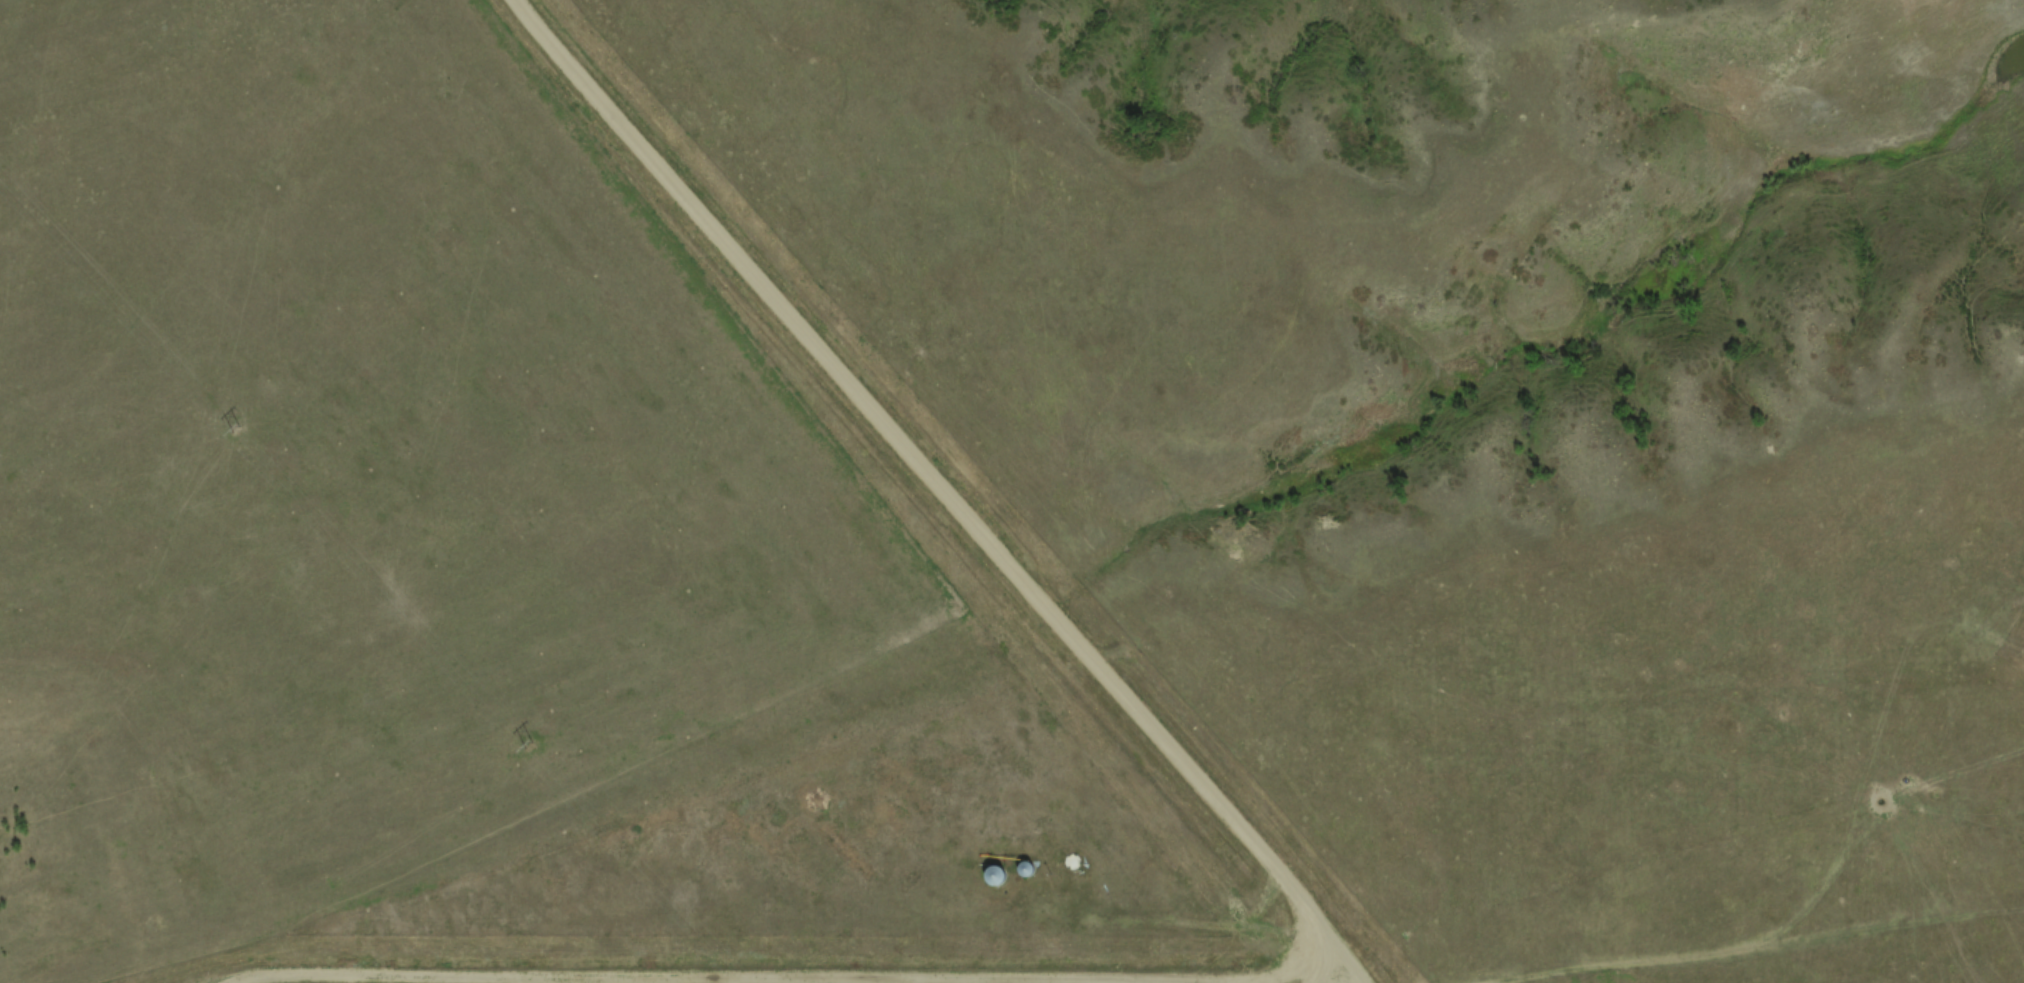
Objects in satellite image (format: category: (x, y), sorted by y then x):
power tower: (235, 432)
road: (942, 488)
power tower: (529, 748)

